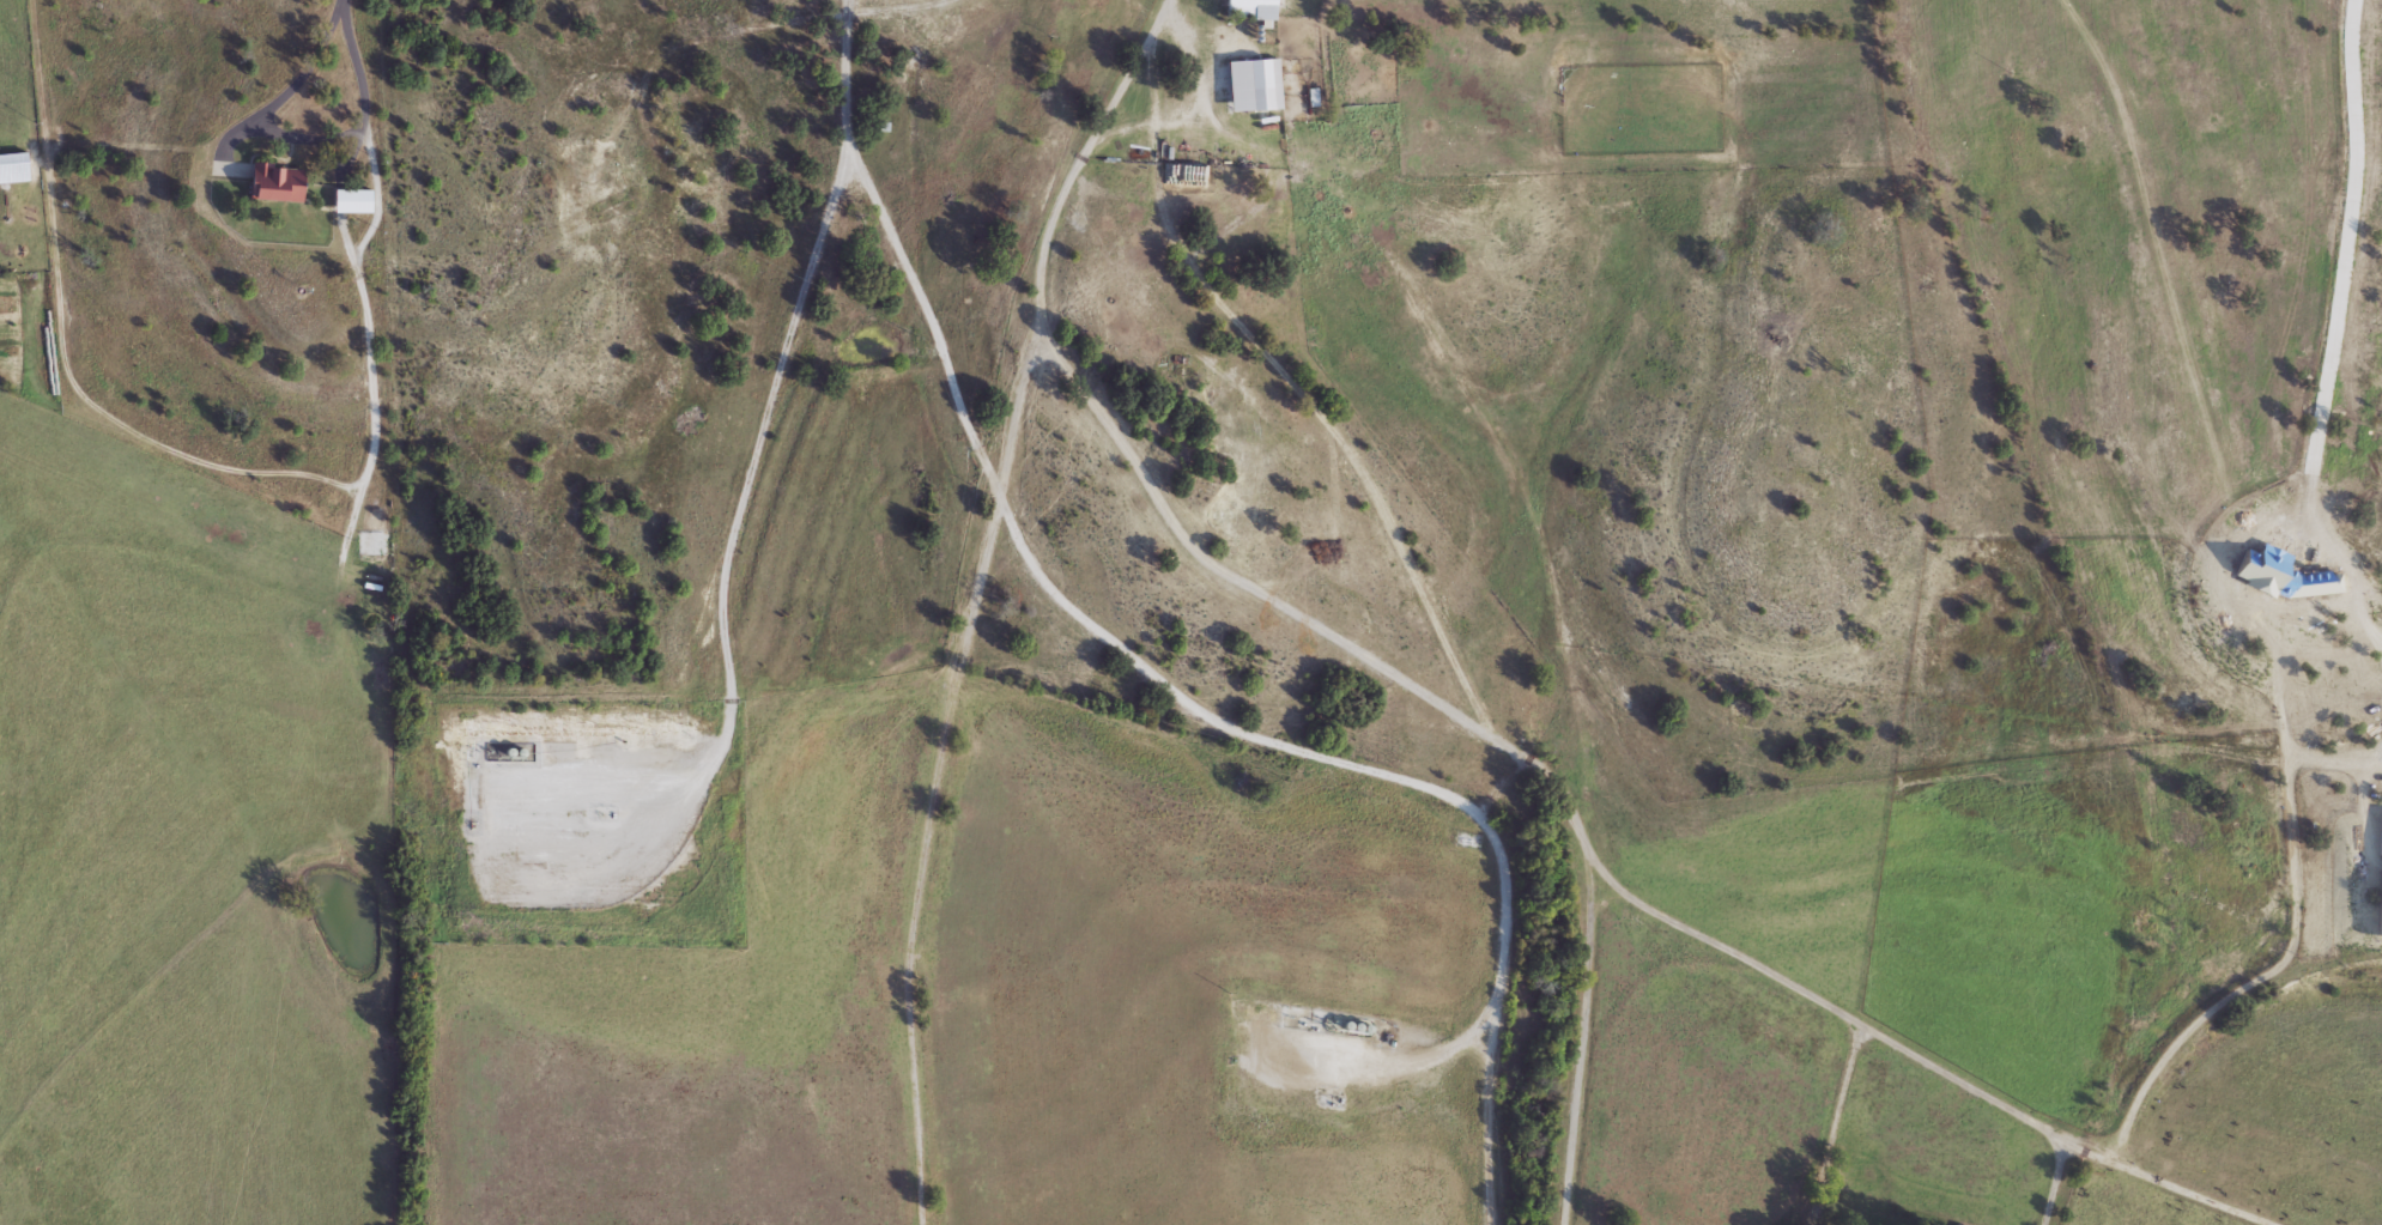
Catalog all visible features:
building: (1250, 10)
building: (1251, 85)
road: (295, 139)
building: (13, 169)
building: (275, 183)
road: (2332, 332)
road: (1297, 382)
road: (190, 453)
road: (1158, 499)
road: (729, 554)
road: (2261, 601)
road: (1115, 645)
road: (934, 774)
road: (1580, 1037)
road: (1916, 1056)
road: (1836, 1124)
road: (2053, 1183)

